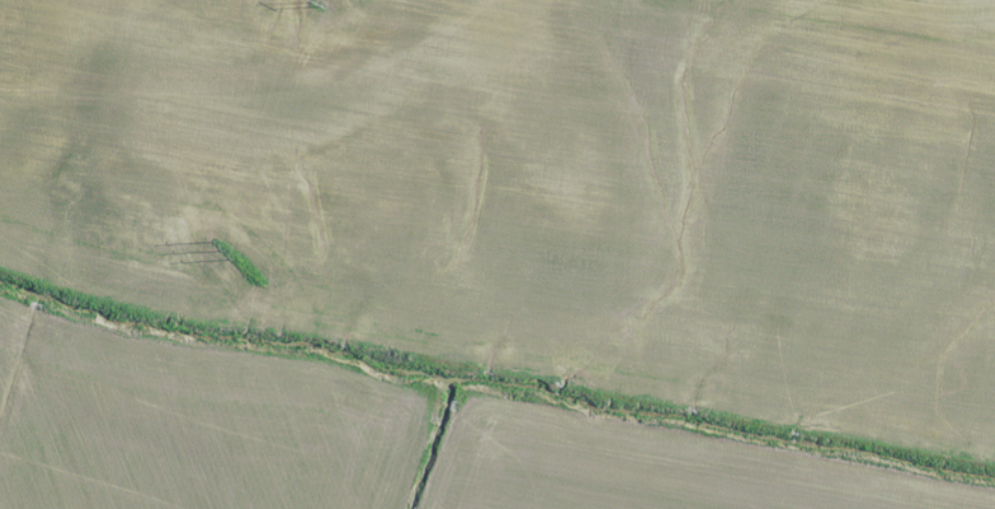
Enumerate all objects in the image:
power tower: (311, 2)
power tower: (218, 246)

